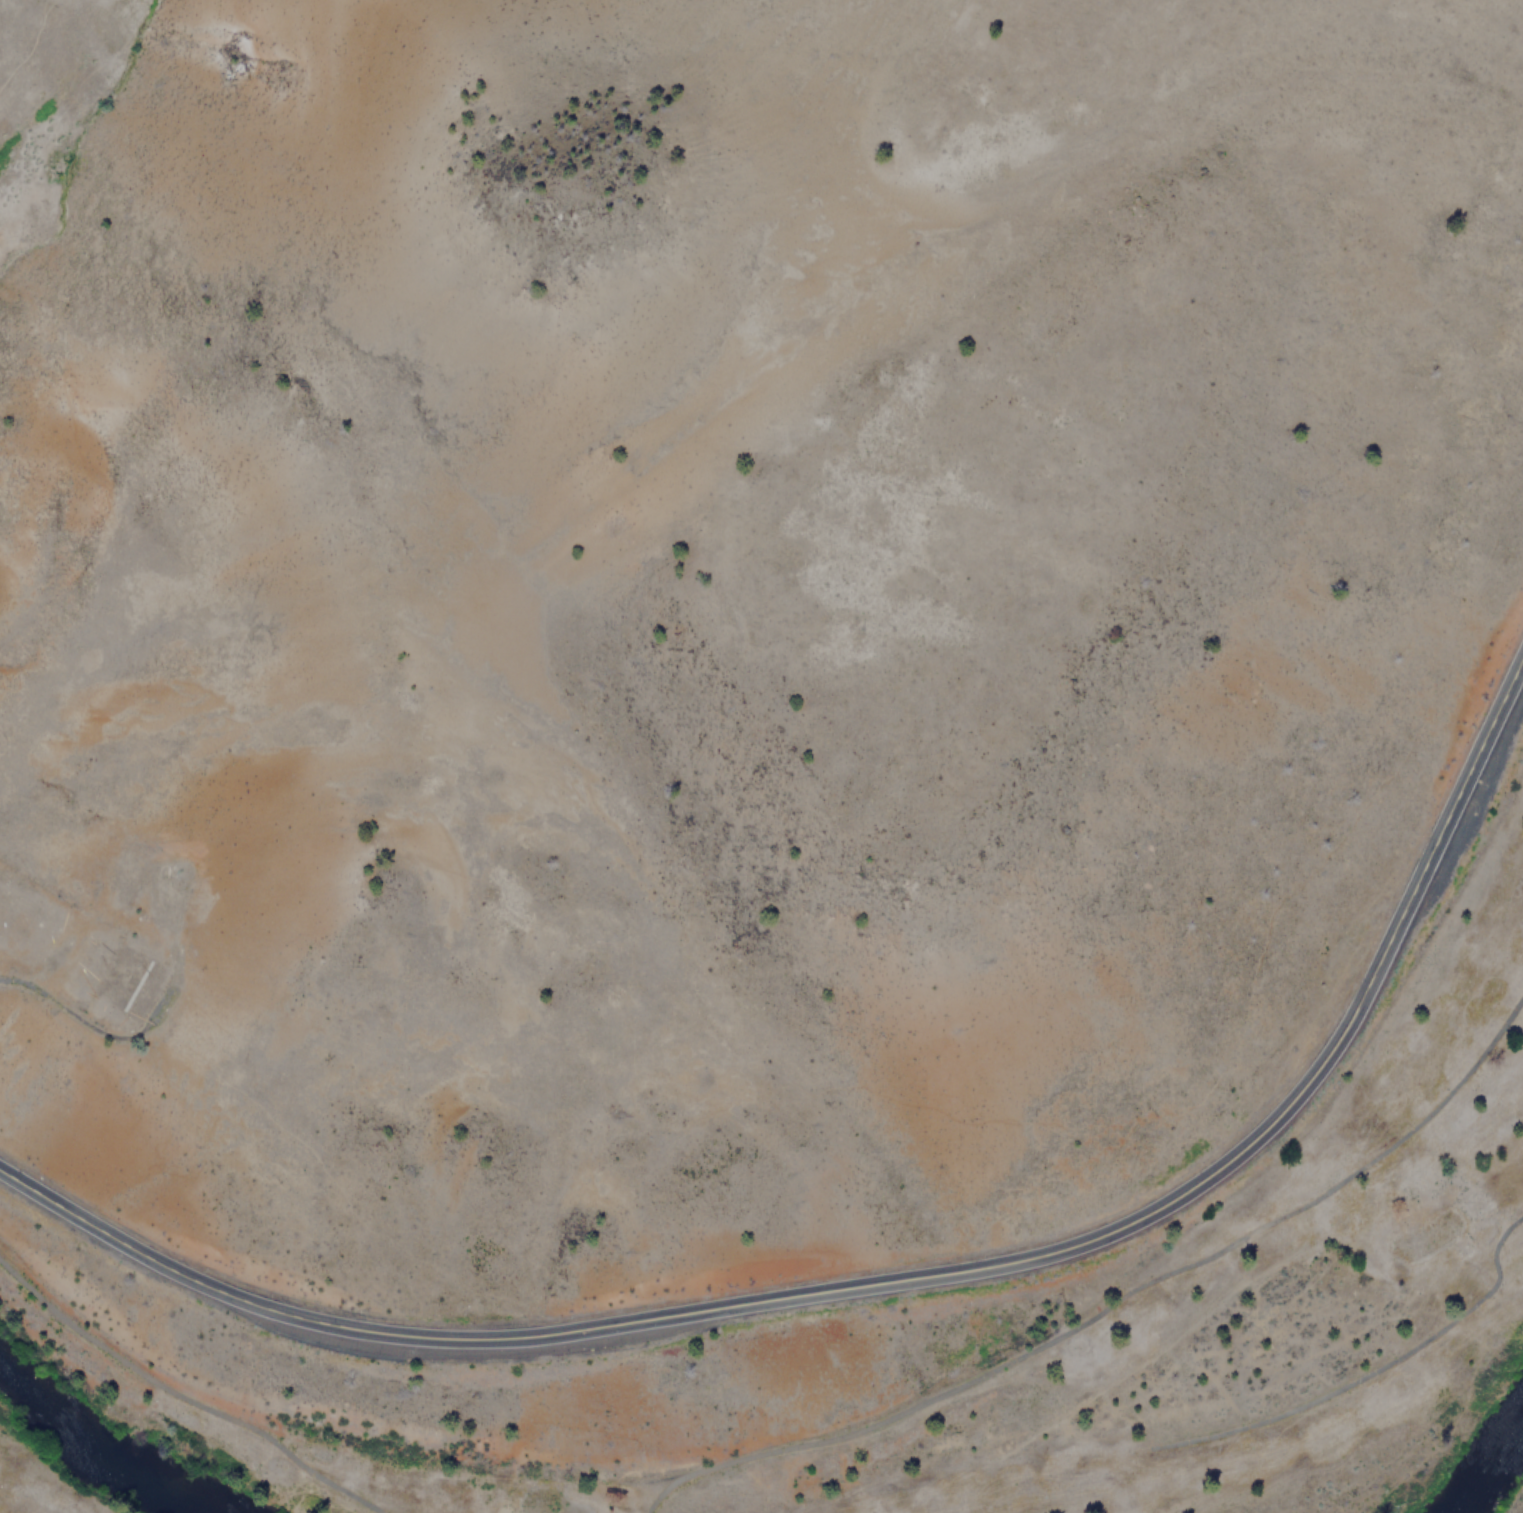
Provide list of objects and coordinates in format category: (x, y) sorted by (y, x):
road: (28, 45)
road: (902, 1278)
park: (890, 1342)
river: (92, 1454)
river: (1489, 1465)

